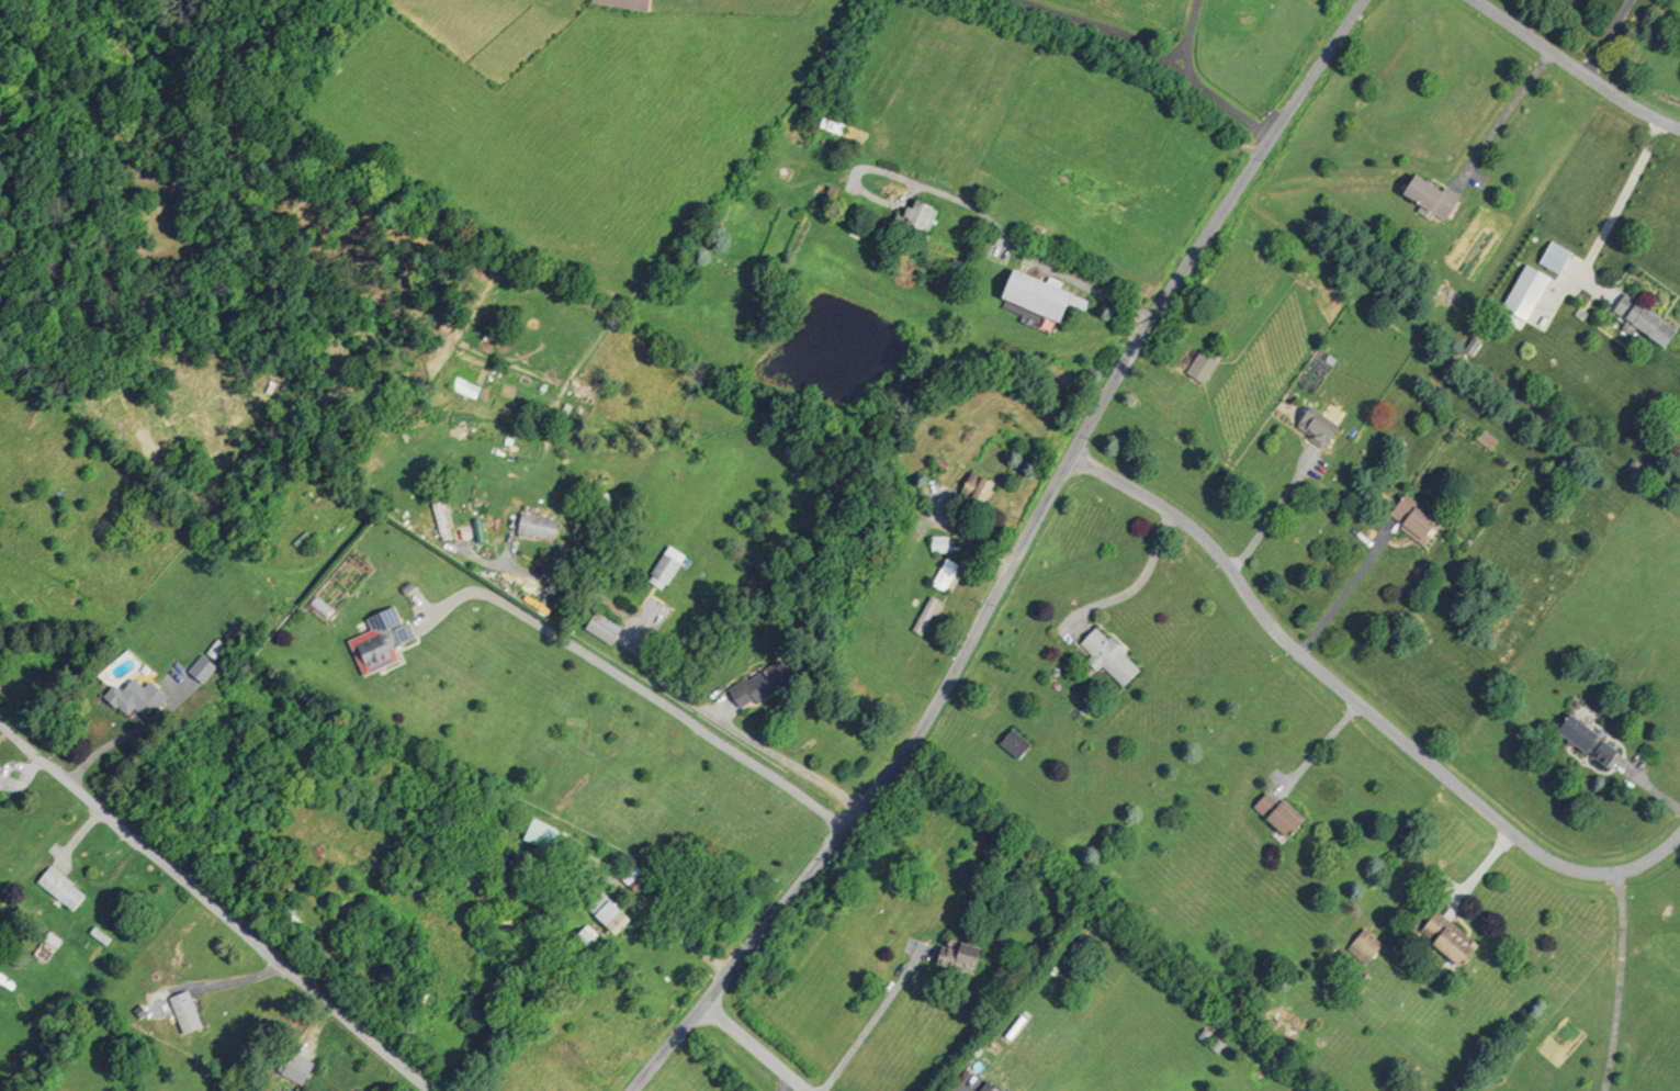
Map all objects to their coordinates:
building: (623, 2)
road: (1187, 36)
road: (1608, 37)
road: (1150, 52)
road: (1572, 67)
road: (1504, 116)
building: (833, 125)
road: (877, 198)
building: (1430, 199)
road: (1620, 201)
building: (915, 224)
road: (1012, 237)
building: (1554, 257)
building: (1523, 290)
building: (1039, 296)
building: (1643, 319)
building: (1200, 368)
building: (1316, 427)
building: (1488, 439)
building: (942, 463)
building: (979, 487)
road: (1269, 515)
building: (440, 516)
building: (1413, 520)
building: (537, 528)
road: (960, 538)
building: (940, 545)
road: (508, 550)
road: (1015, 560)
building: (667, 569)
building: (947, 575)
road: (1139, 584)
road: (1346, 589)
building: (322, 607)
building: (927, 616)
building: (605, 629)
building: (381, 642)
building: (1107, 654)
building: (202, 670)
road: (659, 672)
building: (760, 685)
road: (639, 688)
building: (135, 698)
road: (1360, 707)
road: (132, 739)
building: (1587, 741)
building: (1014, 744)
road: (1318, 749)
road: (19, 768)
road: (1647, 787)
building: (1274, 813)
building: (544, 834)
road: (76, 837)
building: (630, 871)
road: (1478, 873)
building: (60, 889)
road: (214, 908)
building: (287, 910)
building: (609, 913)
building: (588, 936)
building: (1447, 938)
building: (45, 946)
building: (1363, 946)
building: (959, 957)
road: (326, 968)
road: (1621, 980)
road: (217, 986)
building: (185, 1013)
road: (870, 1022)
road: (317, 1030)
road: (752, 1047)
building: (297, 1070)
road: (783, 1084)
building: (986, 1088)
road: (963, 1090)

